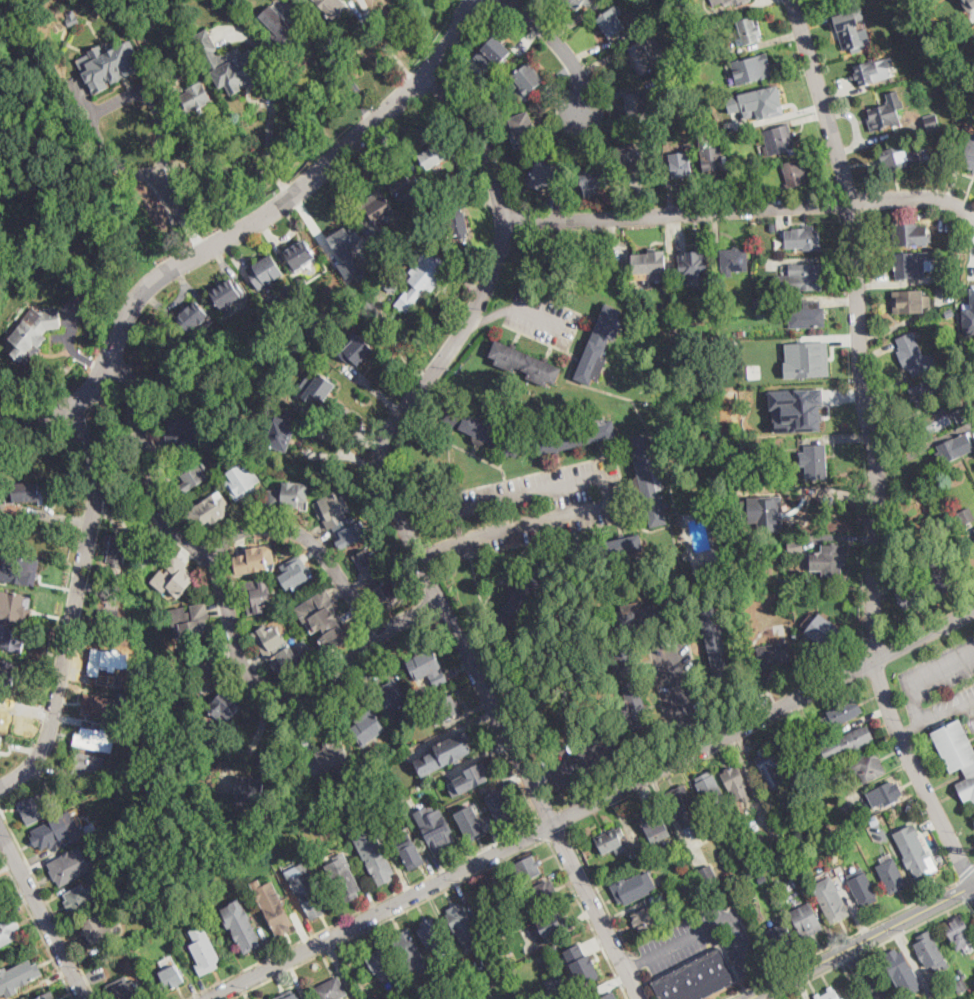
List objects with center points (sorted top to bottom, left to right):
building: (828, 0)
building: (724, 1)
building: (325, 3)
building: (578, 3)
building: (680, 6)
building: (968, 17)
building: (73, 19)
building: (612, 21)
building: (280, 29)
building: (852, 30)
building: (749, 31)
road: (386, 43)
road: (560, 47)
building: (208, 51)
building: (726, 51)
building: (707, 52)
building: (495, 54)
building: (642, 57)
road: (337, 59)
building: (110, 64)
building: (160, 64)
building: (751, 68)
building: (873, 69)
building: (231, 76)
building: (526, 80)
building: (973, 84)
building: (194, 98)
building: (758, 101)
building: (637, 106)
building: (701, 106)
building: (678, 112)
building: (886, 113)
road: (271, 123)
building: (932, 123)
building: (524, 131)
building: (780, 140)
building: (651, 142)
building: (710, 154)
building: (435, 155)
building: (969, 156)
building: (630, 157)
building: (897, 159)
building: (680, 164)
road: (120, 165)
road: (185, 165)
road: (159, 167)
building: (468, 167)
building: (795, 174)
building: (545, 175)
road: (280, 180)
building: (593, 180)
building: (406, 188)
road: (288, 191)
building: (378, 209)
road: (740, 209)
building: (458, 223)
building: (773, 226)
road: (244, 229)
building: (906, 234)
building: (345, 239)
building: (803, 239)
building: (955, 239)
building: (300, 255)
building: (734, 260)
building: (650, 261)
building: (697, 265)
building: (912, 265)
building: (265, 272)
building: (363, 274)
building: (807, 275)
building: (423, 278)
building: (940, 278)
building: (393, 280)
building: (301, 281)
building: (768, 288)
building: (289, 289)
building: (227, 293)
building: (908, 304)
building: (368, 306)
building: (766, 308)
building: (968, 314)
road: (494, 315)
building: (807, 316)
building: (193, 317)
road: (540, 317)
parking lot: (544, 320)
road: (861, 325)
building: (314, 329)
building: (206, 331)
building: (751, 332)
building: (33, 333)
building: (742, 333)
building: (747, 343)
building: (600, 344)
building: (296, 347)
building: (357, 350)
building: (915, 356)
building: (806, 359)
building: (525, 364)
building: (955, 371)
building: (318, 389)
building: (922, 394)
building: (796, 409)
building: (939, 422)
building: (484, 430)
building: (182, 433)
building: (280, 433)
building: (973, 433)
building: (576, 436)
building: (955, 448)
building: (815, 461)
building: (191, 474)
building: (242, 481)
building: (649, 482)
road: (608, 492)
road: (840, 492)
building: (24, 493)
building: (288, 495)
parking lot: (538, 507)
building: (212, 509)
building: (766, 513)
building: (966, 516)
building: (340, 520)
road: (429, 522)
road: (405, 533)
road: (311, 541)
building: (796, 546)
building: (118, 550)
road: (438, 552)
building: (604, 553)
building: (255, 559)
building: (830, 559)
building: (19, 568)
building: (706, 568)
building: (297, 574)
building: (174, 577)
building: (378, 578)
building: (940, 582)
building: (908, 594)
building: (256, 596)
building: (523, 596)
building: (15, 604)
road: (72, 606)
building: (654, 611)
road: (230, 613)
building: (325, 619)
building: (107, 620)
building: (191, 620)
building: (824, 635)
road: (925, 635)
building: (13, 638)
building: (719, 646)
building: (282, 650)
building: (774, 654)
building: (424, 664)
building: (97, 665)
building: (8, 671)
building: (207, 676)
building: (439, 679)
road: (676, 679)
parking lot: (677, 681)
parking lot: (941, 686)
building: (631, 688)
building: (392, 696)
road: (912, 697)
building: (101, 707)
building: (225, 707)
building: (447, 708)
building: (5, 710)
building: (842, 713)
building: (367, 727)
road: (910, 729)
building: (0, 733)
building: (422, 735)
road: (691, 737)
building: (94, 739)
road: (255, 739)
building: (856, 739)
building: (1, 740)
building: (445, 753)
building: (333, 755)
building: (957, 755)
parking lot: (584, 757)
road: (585, 757)
building: (90, 765)
building: (868, 766)
building: (769, 767)
road: (917, 774)
building: (470, 778)
building: (733, 778)
road: (540, 780)
building: (79, 785)
building: (485, 788)
building: (709, 790)
building: (250, 792)
building: (883, 795)
building: (37, 807)
building: (503, 807)
building: (908, 807)
building: (685, 808)
building: (874, 820)
building: (471, 822)
building: (655, 825)
building: (90, 828)
building: (436, 828)
road: (541, 829)
road: (543, 830)
road: (557, 834)
building: (742, 834)
building: (46, 836)
building: (814, 837)
building: (611, 840)
building: (410, 850)
building: (915, 852)
building: (642, 853)
building: (373, 854)
building: (656, 863)
building: (769, 863)
building: (71, 866)
building: (759, 866)
building: (792, 866)
building: (117, 870)
building: (523, 871)
building: (891, 873)
road: (966, 873)
building: (710, 875)
building: (762, 878)
building: (346, 883)
road: (412, 885)
building: (792, 885)
building: (689, 886)
building: (727, 887)
building: (862, 887)
building: (633, 888)
building: (308, 890)
road: (599, 892)
building: (656, 897)
building: (831, 897)
building: (81, 899)
road: (972, 899)
road: (48, 901)
building: (480, 902)
building: (537, 902)
building: (273, 906)
road: (42, 914)
building: (669, 914)
building: (492, 915)
road: (389, 919)
building: (460, 919)
road: (587, 919)
building: (648, 919)
building: (807, 920)
road: (36, 924)
building: (242, 925)
building: (546, 925)
road: (712, 925)
road: (915, 925)
road: (866, 926)
building: (97, 929)
building: (8, 930)
building: (495, 930)
building: (960, 932)
building: (431, 935)
building: (780, 935)
parking lot: (701, 939)
road: (859, 940)
building: (407, 945)
building: (502, 945)
building: (133, 947)
building: (554, 947)
building: (204, 951)
building: (930, 951)
building: (545, 954)
building: (491, 955)
road: (851, 956)
building: (105, 957)
building: (378, 961)
building: (576, 962)
road: (634, 963)
road: (635, 963)
building: (902, 970)
building: (972, 972)
road: (865, 973)
building: (467, 976)
building: (698, 976)
building: (18, 977)
building: (171, 977)
road: (760, 978)
road: (763, 979)
road: (804, 980)
building: (490, 982)
building: (452, 983)
road: (646, 985)
building: (963, 985)
building: (558, 988)
building: (330, 989)
building: (972, 991)
building: (127, 992)
road: (738, 992)
building: (829, 994)
building: (49, 996)
building: (293, 996)
building: (609, 996)
building: (425, 997)
building: (843, 998)

